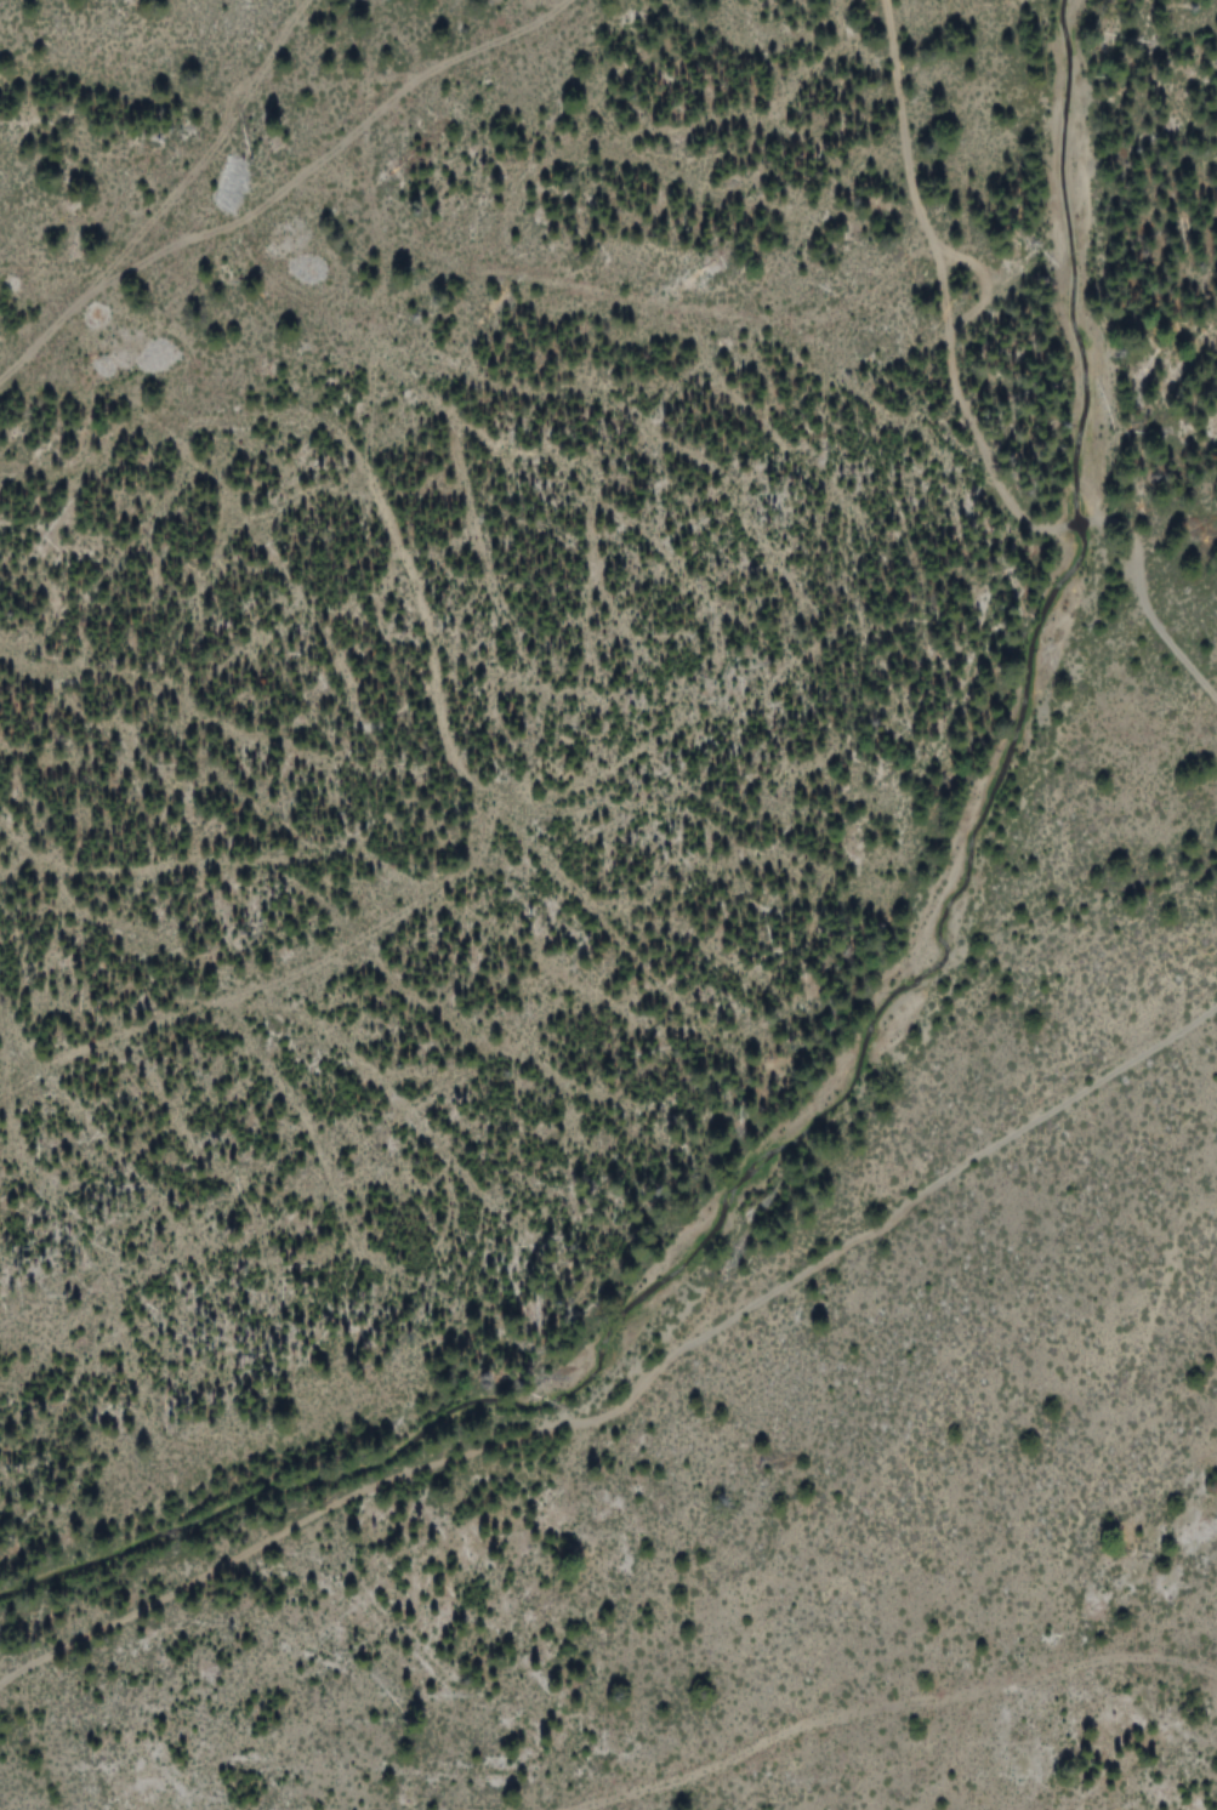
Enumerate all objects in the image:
road: (607, 1395)

